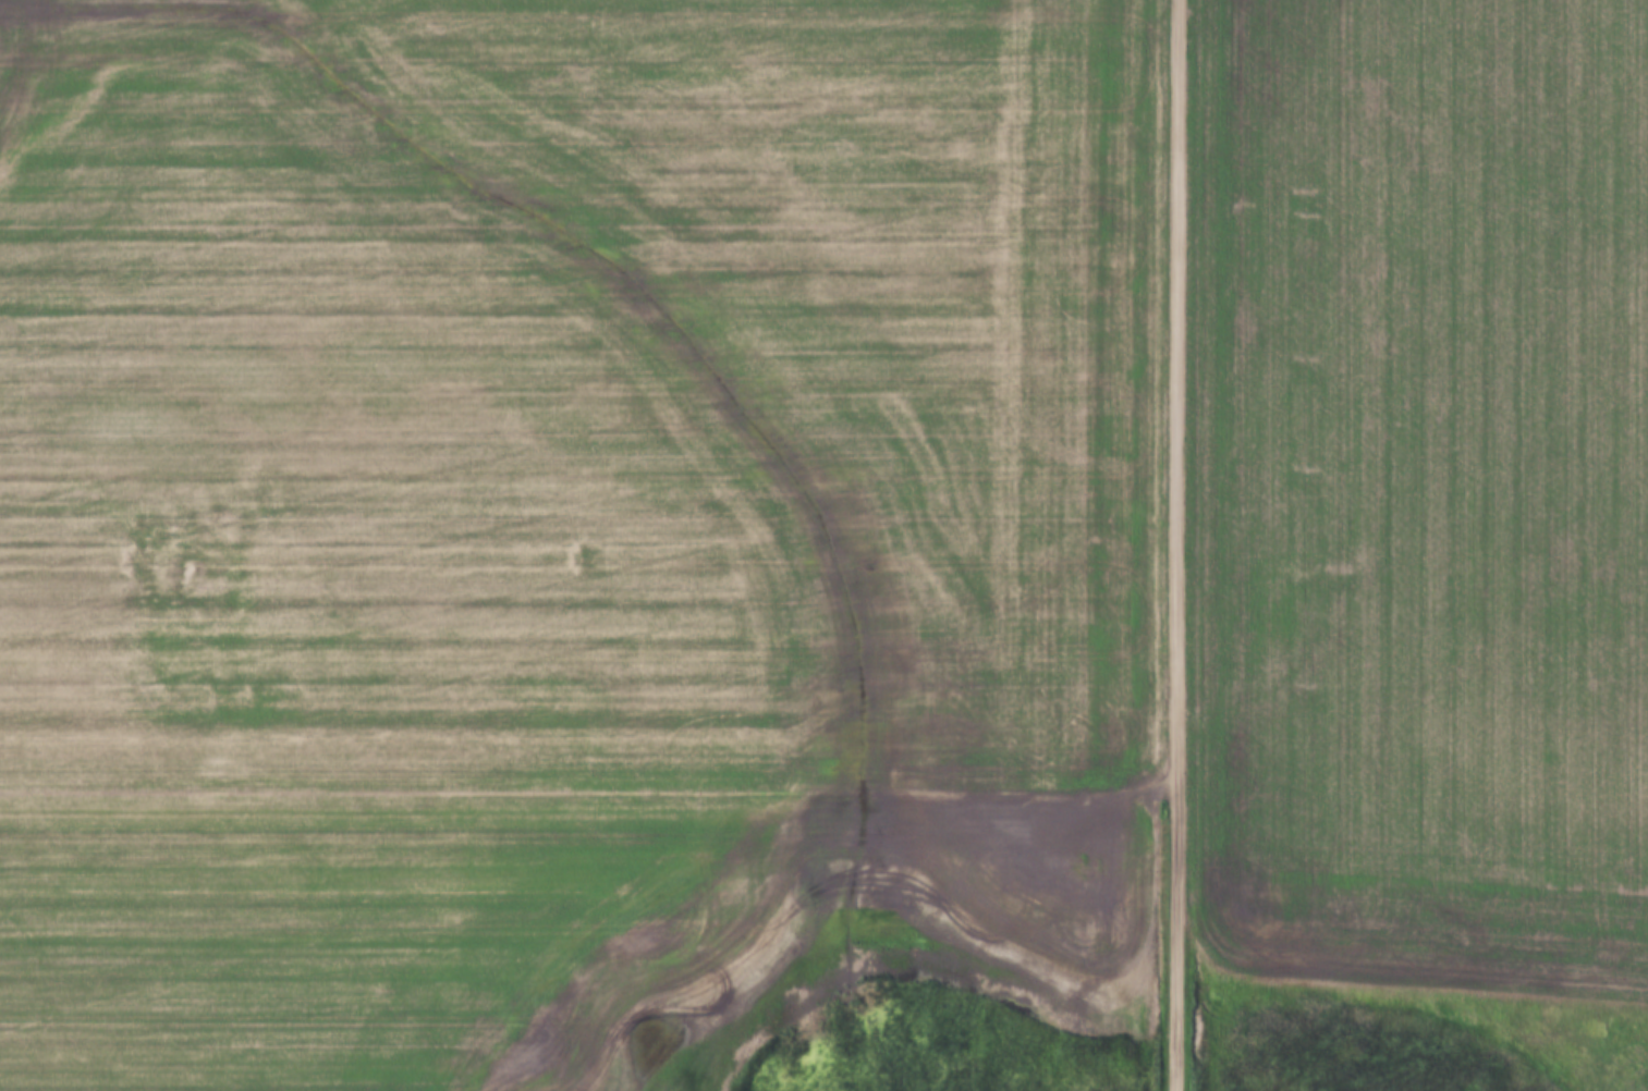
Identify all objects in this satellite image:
road: (1175, 544)

